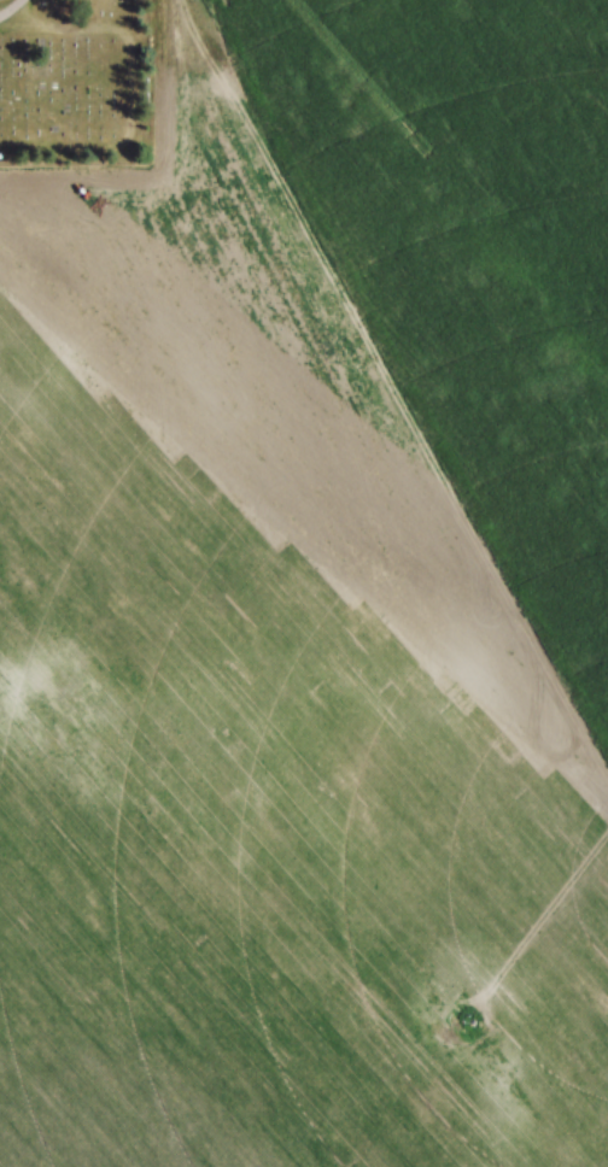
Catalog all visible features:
road: (12, 10)

